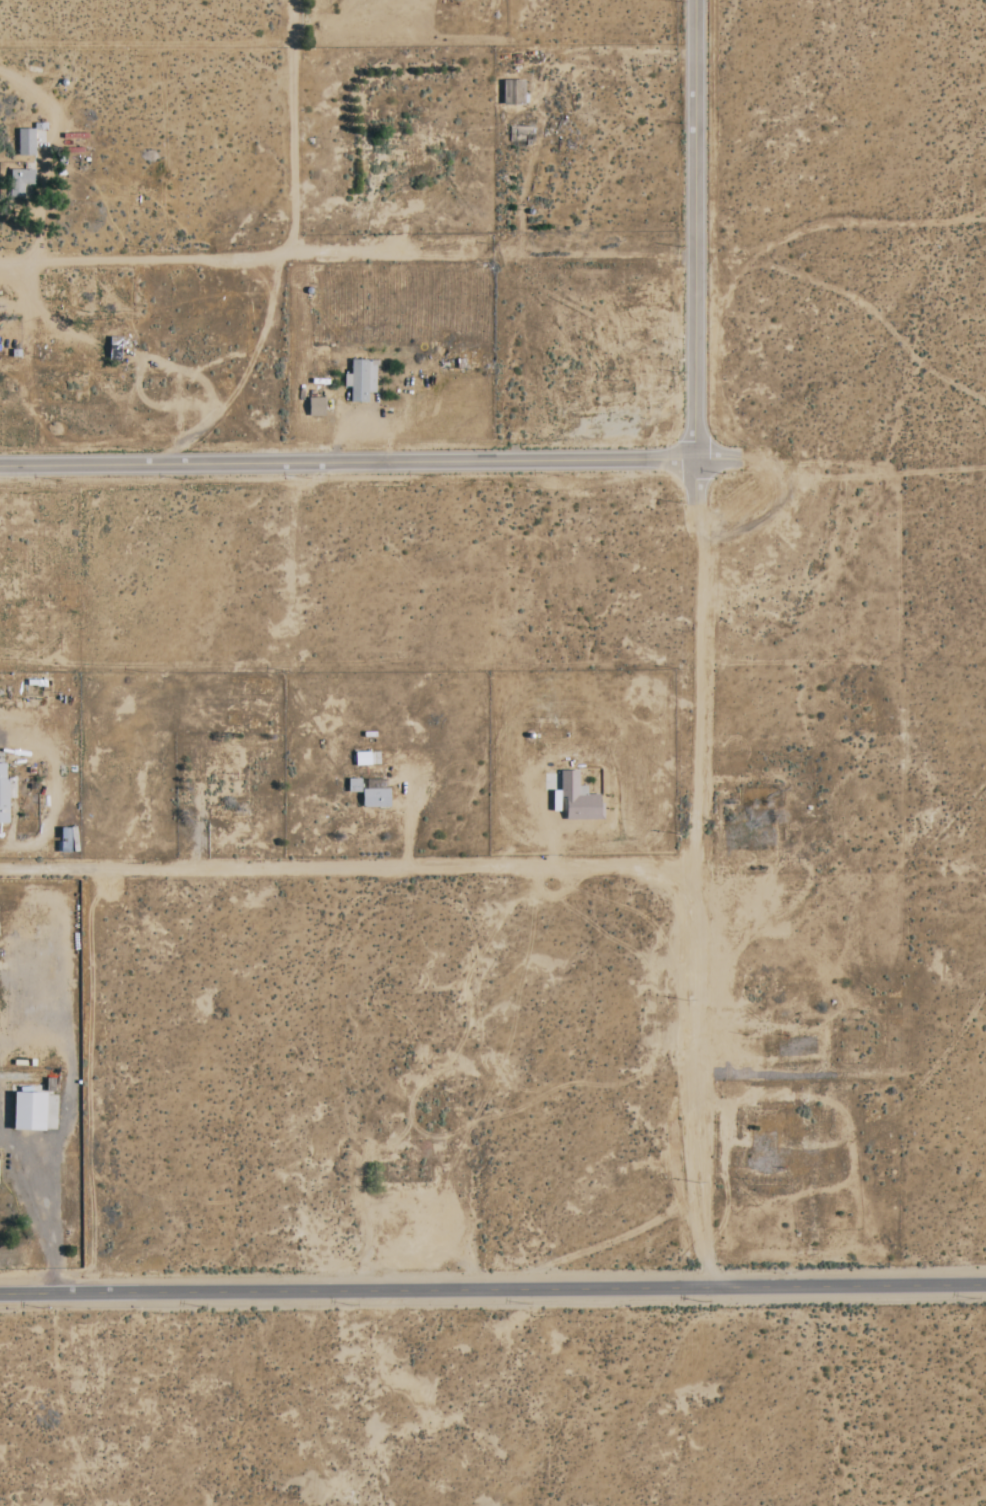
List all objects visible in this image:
building: (24, 142)
building: (19, 181)
road: (38, 216)
road: (694, 230)
road: (347, 254)
building: (359, 381)
building: (314, 407)
road: (718, 460)
road: (347, 463)
road: (695, 483)
building: (361, 759)
building: (352, 786)
building: (3, 794)
building: (374, 799)
building: (576, 799)
road: (353, 852)
road: (703, 893)
building: (26, 1112)
road: (35, 1213)
road: (492, 1286)

